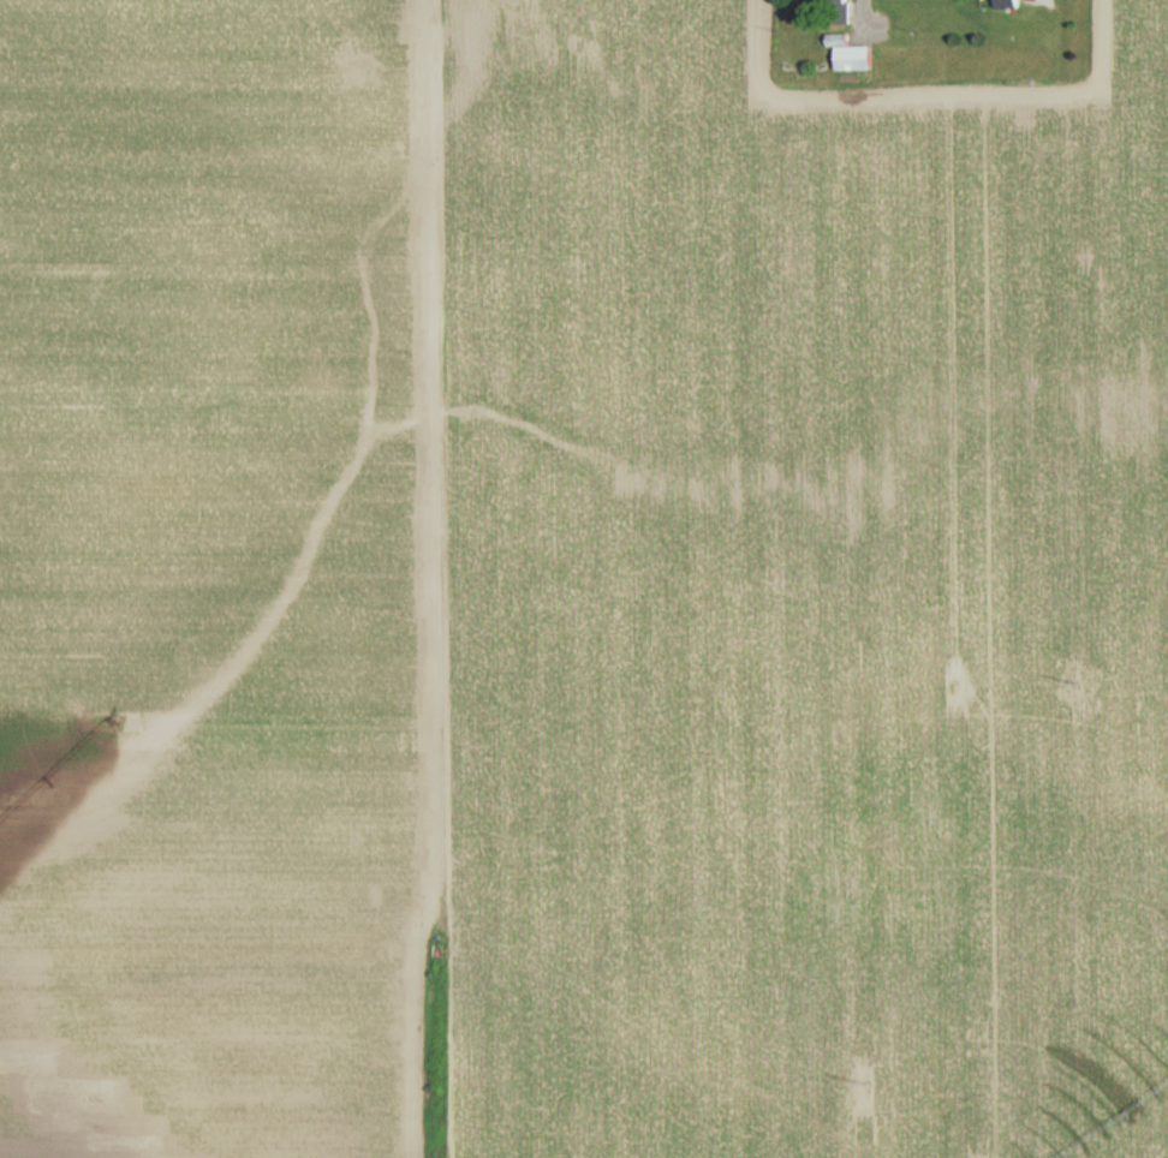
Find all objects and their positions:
building: (1009, 4)
building: (854, 56)
power tower: (1097, 662)
power tower: (881, 1059)

